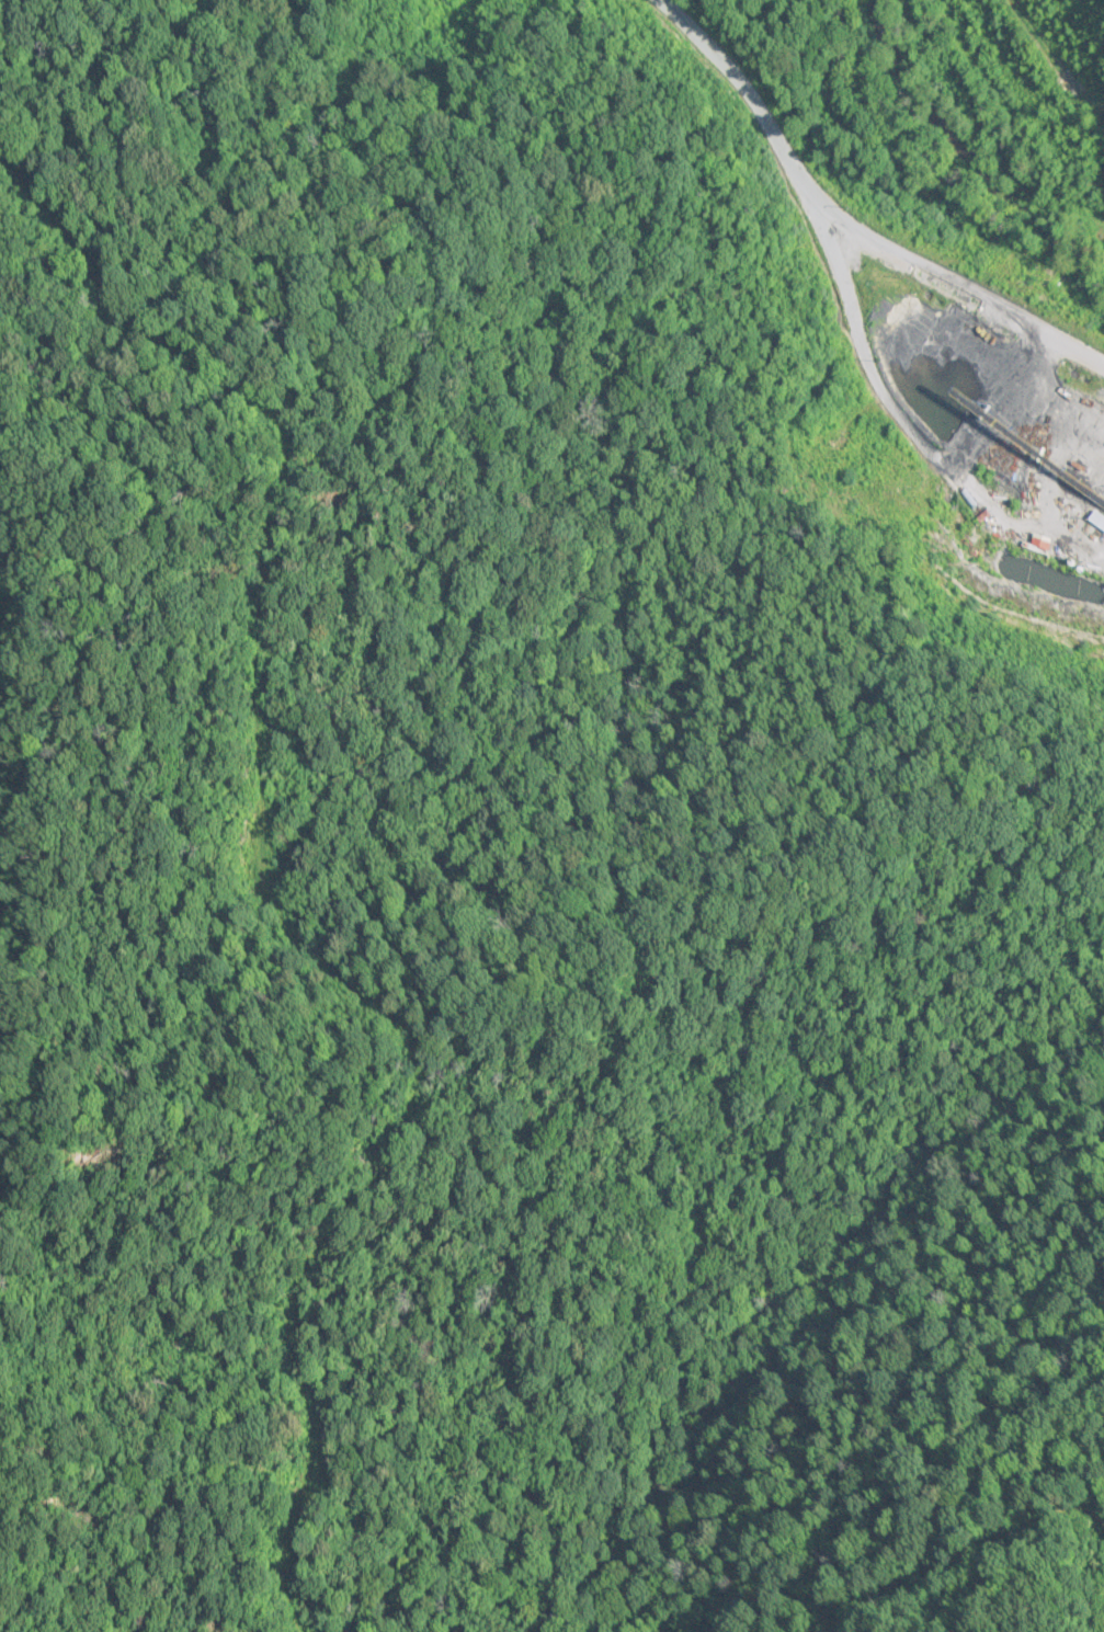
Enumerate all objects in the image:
road: (1013, 140)
road: (839, 324)

